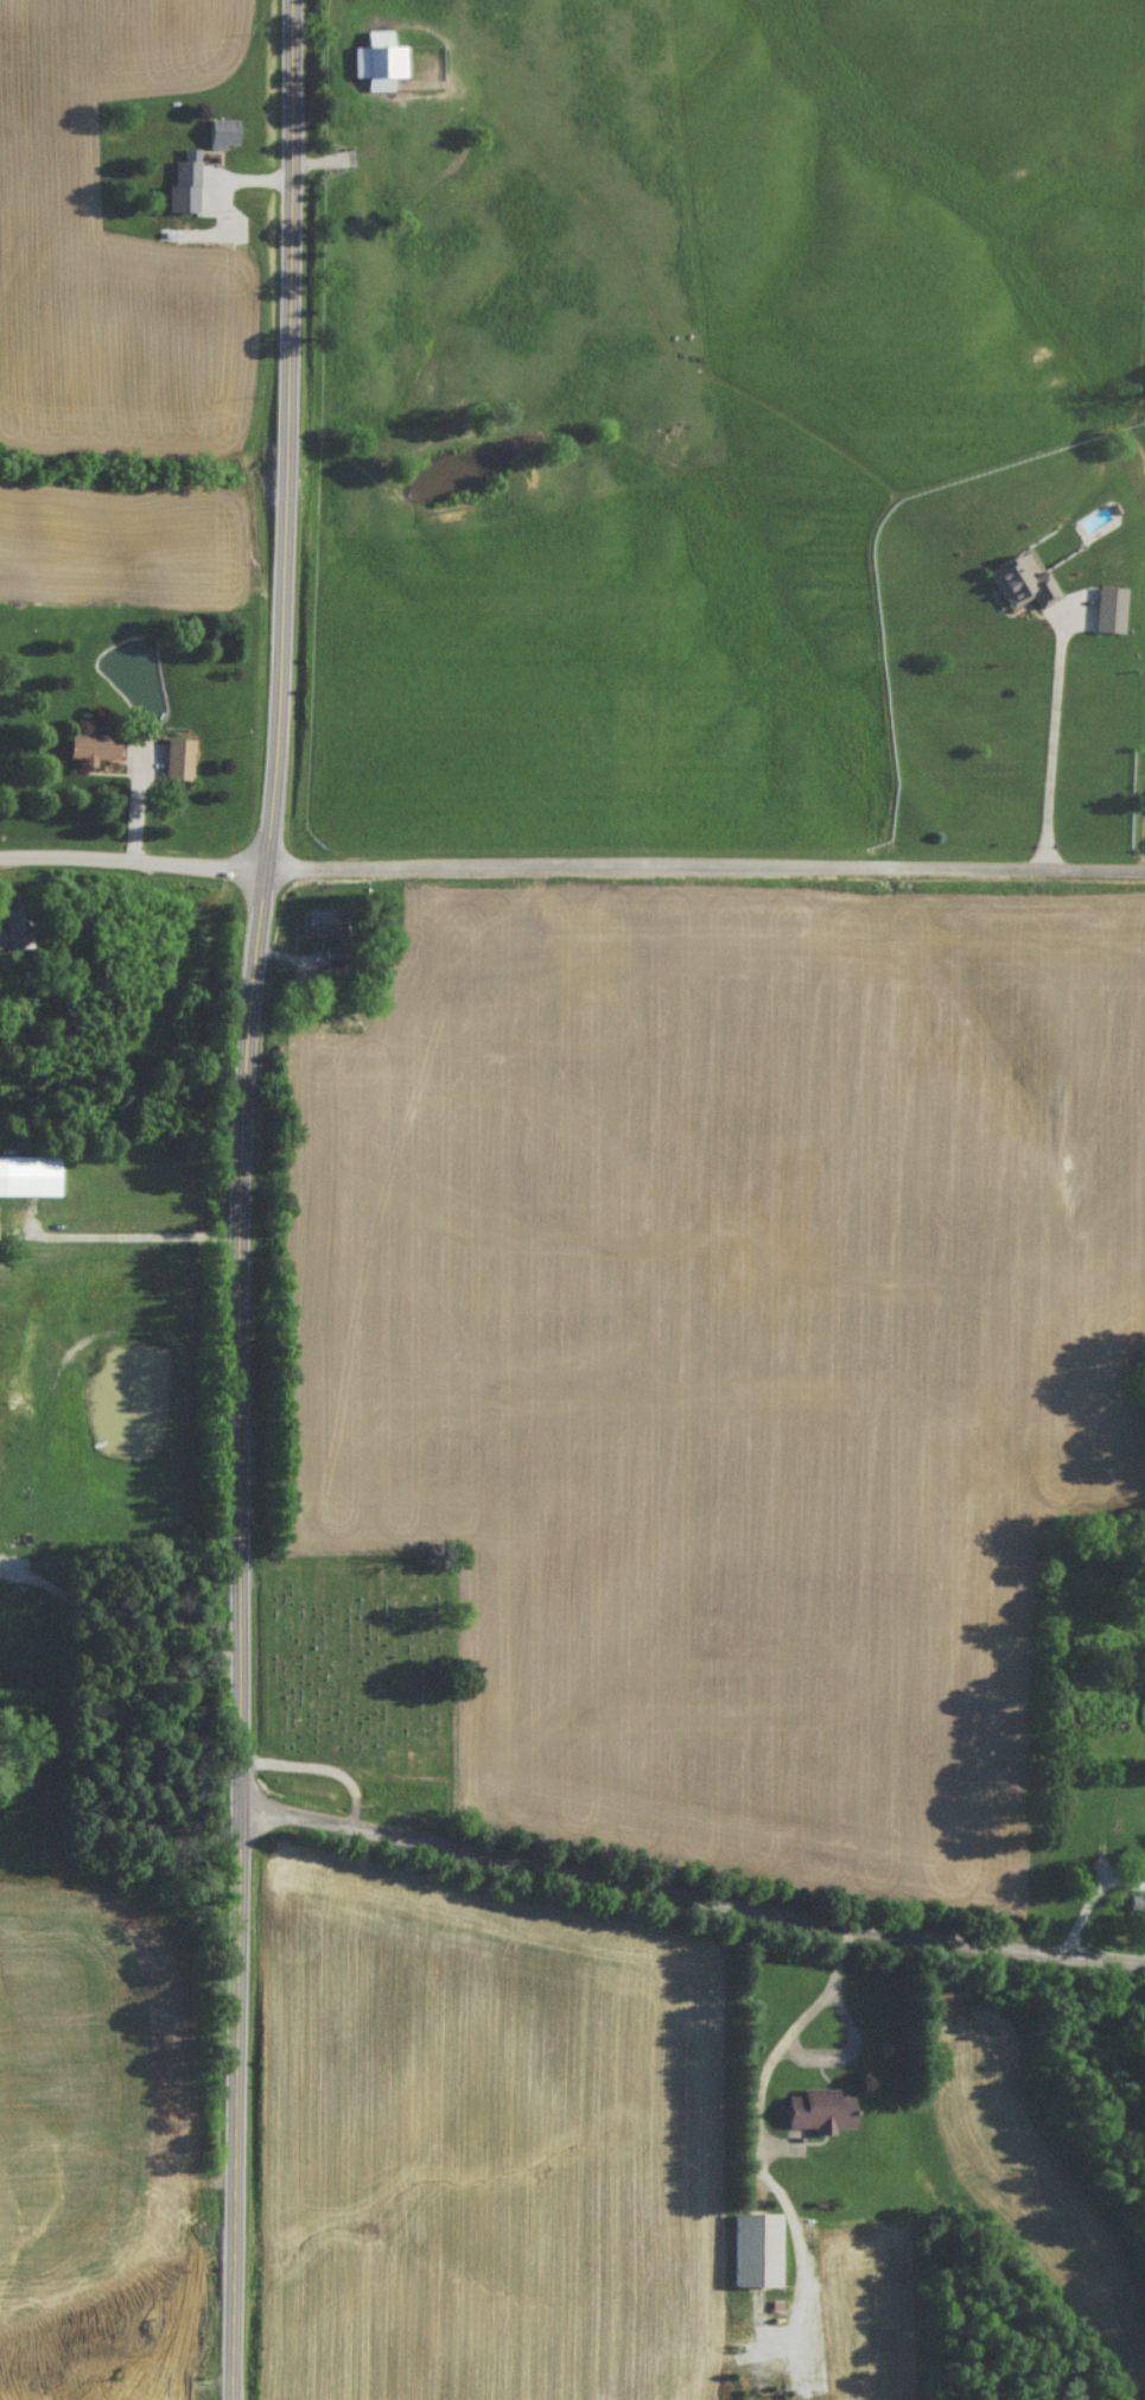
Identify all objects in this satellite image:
building: (376, 72)
building: (218, 140)
building: (182, 180)
building: (1018, 591)
building: (1103, 617)
road: (1050, 728)
building: (89, 755)
building: (174, 766)
road: (132, 859)
road: (705, 859)
building: (318, 931)
building: (13, 935)
building: (581, 946)
building: (9, 1016)
road: (243, 1199)
road: (122, 1240)
road: (122, 1612)
park: (349, 1687)
road: (689, 1891)
building: (1134, 1915)
road: (778, 2043)
building: (814, 2116)
building: (751, 2256)

